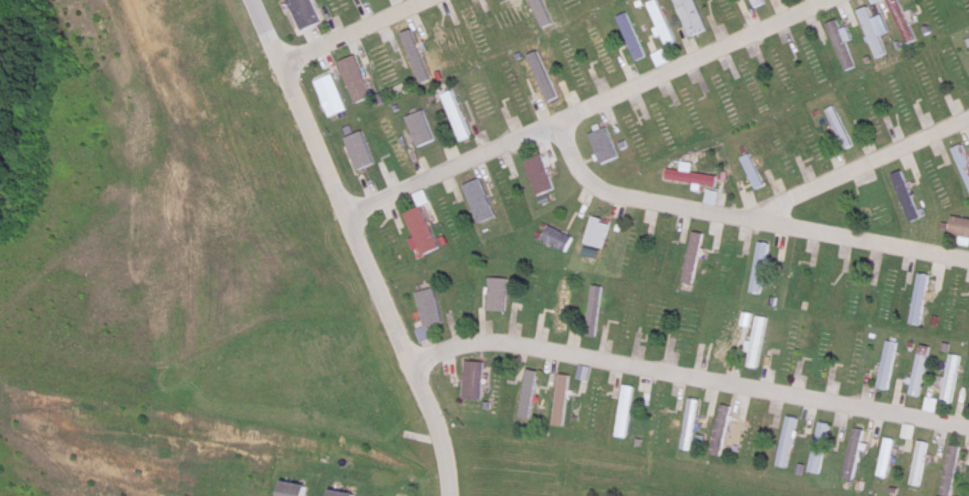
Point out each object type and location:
building: (757, 3)
building: (297, 14)
building: (689, 17)
building: (901, 21)
building: (659, 24)
building: (875, 32)
building: (467, 34)
building: (627, 37)
road: (312, 47)
building: (841, 47)
building: (597, 51)
road: (689, 61)
building: (349, 79)
building: (324, 96)
building: (721, 99)
building: (450, 116)
building: (416, 129)
building: (836, 129)
building: (353, 145)
building: (598, 146)
building: (962, 164)
road: (861, 166)
road: (449, 169)
building: (536, 175)
building: (688, 178)
building: (904, 197)
road: (742, 213)
building: (958, 227)
building: (421, 231)
building: (597, 233)
building: (558, 239)
building: (690, 258)
building: (754, 267)
road: (374, 278)
building: (497, 295)
building: (916, 299)
building: (562, 306)
building: (594, 308)
building: (426, 313)
building: (756, 342)
building: (819, 354)
building: (882, 364)
building: (915, 370)
road: (690, 375)
building: (946, 379)
building: (473, 381)
building: (560, 400)
building: (593, 406)
building: (627, 412)
building: (694, 425)
building: (726, 430)
building: (789, 442)
building: (818, 448)
building: (850, 453)
building: (914, 463)
building: (946, 470)
building: (289, 489)
building: (338, 493)
building: (968, 495)

